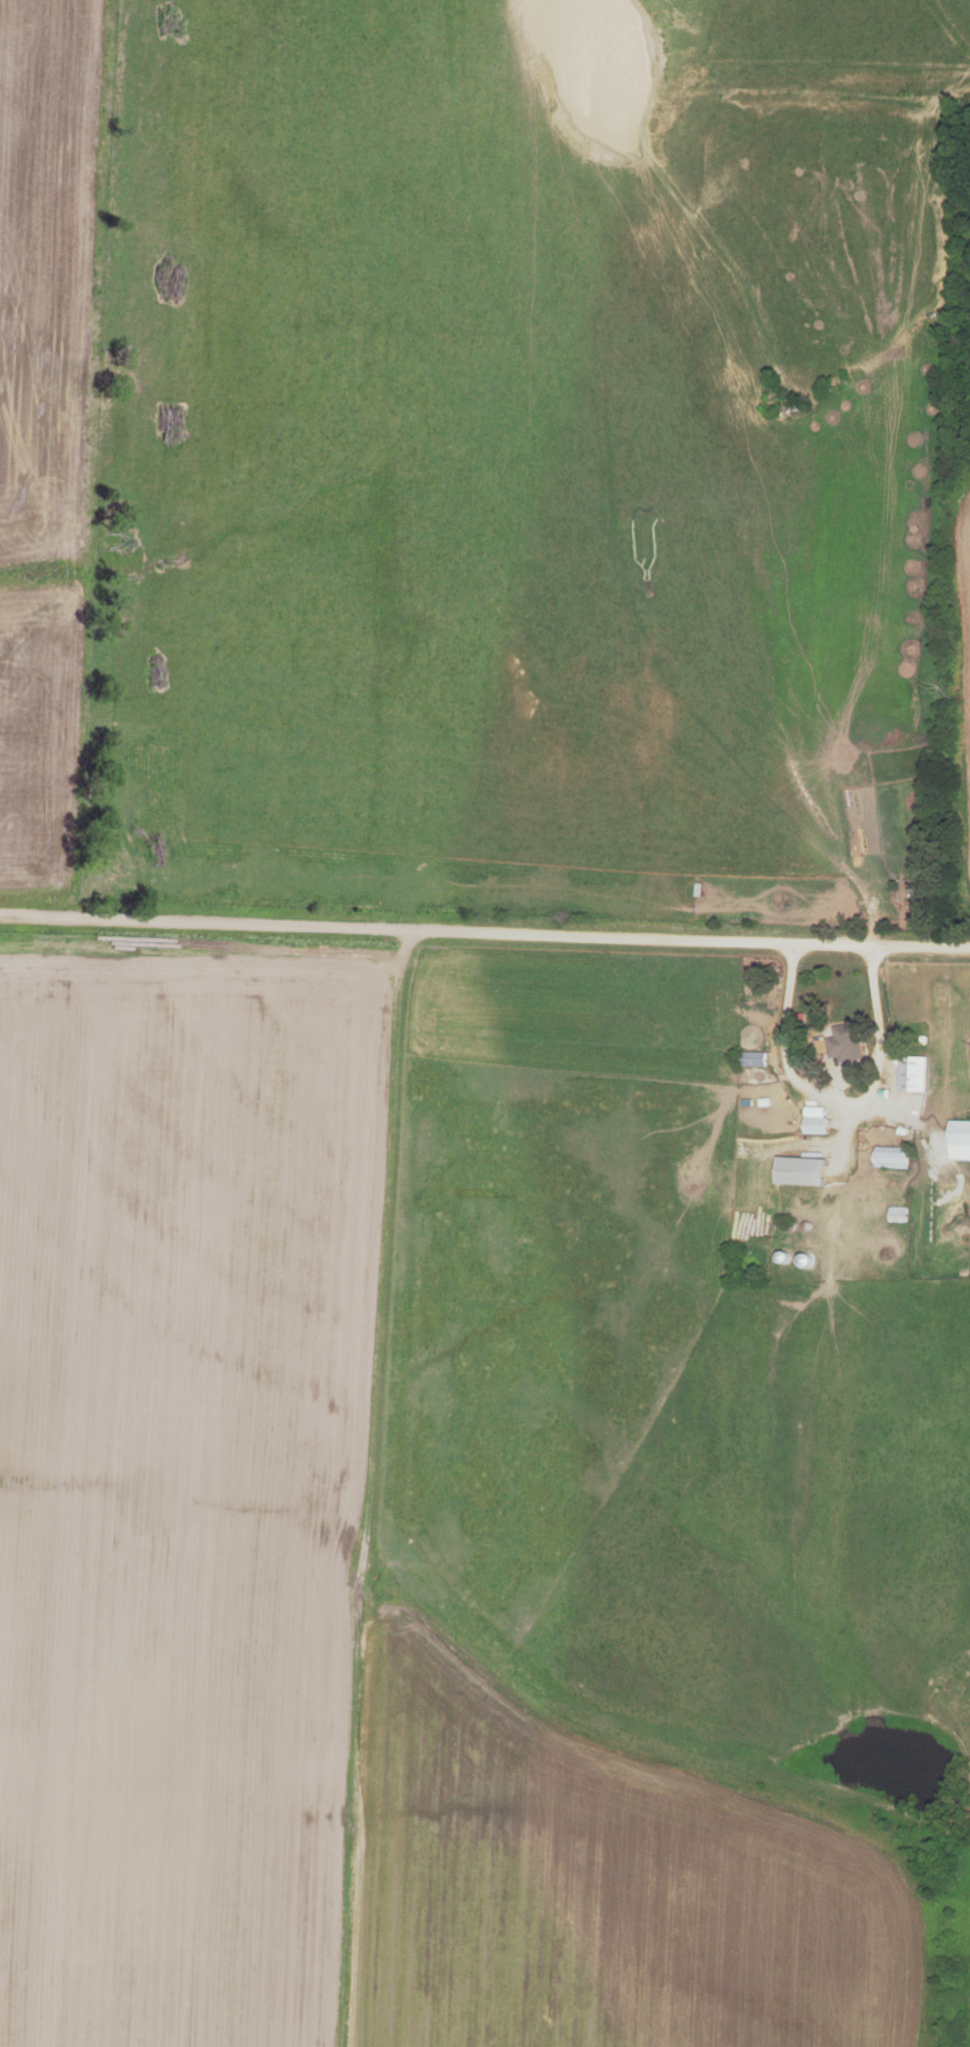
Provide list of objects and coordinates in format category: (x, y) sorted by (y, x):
road: (484, 932)
building: (847, 1043)
building: (754, 1059)
building: (916, 1074)
road: (840, 1109)
building: (819, 1126)
building: (961, 1141)
building: (895, 1158)
building: (804, 1172)
building: (900, 1215)

